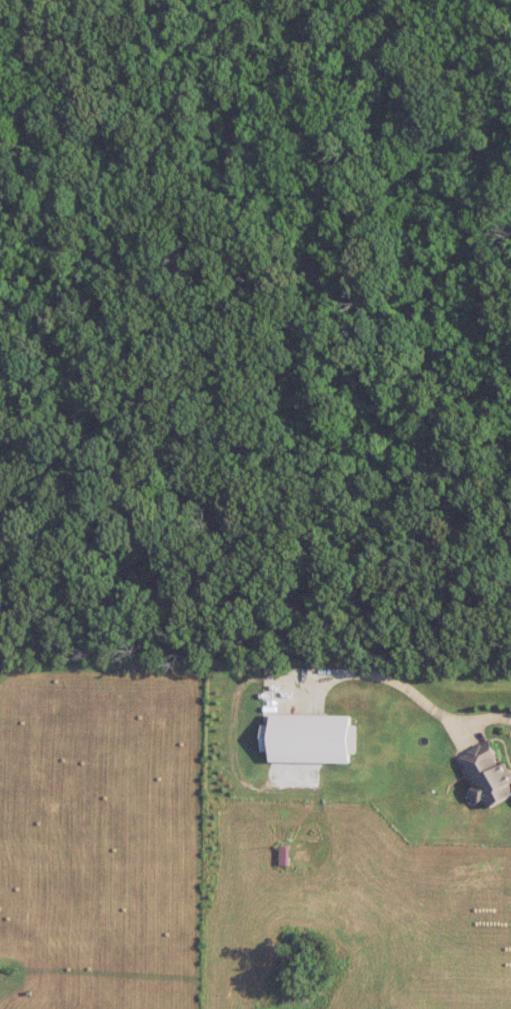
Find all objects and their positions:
building: (311, 738)
building: (489, 773)
building: (285, 855)

